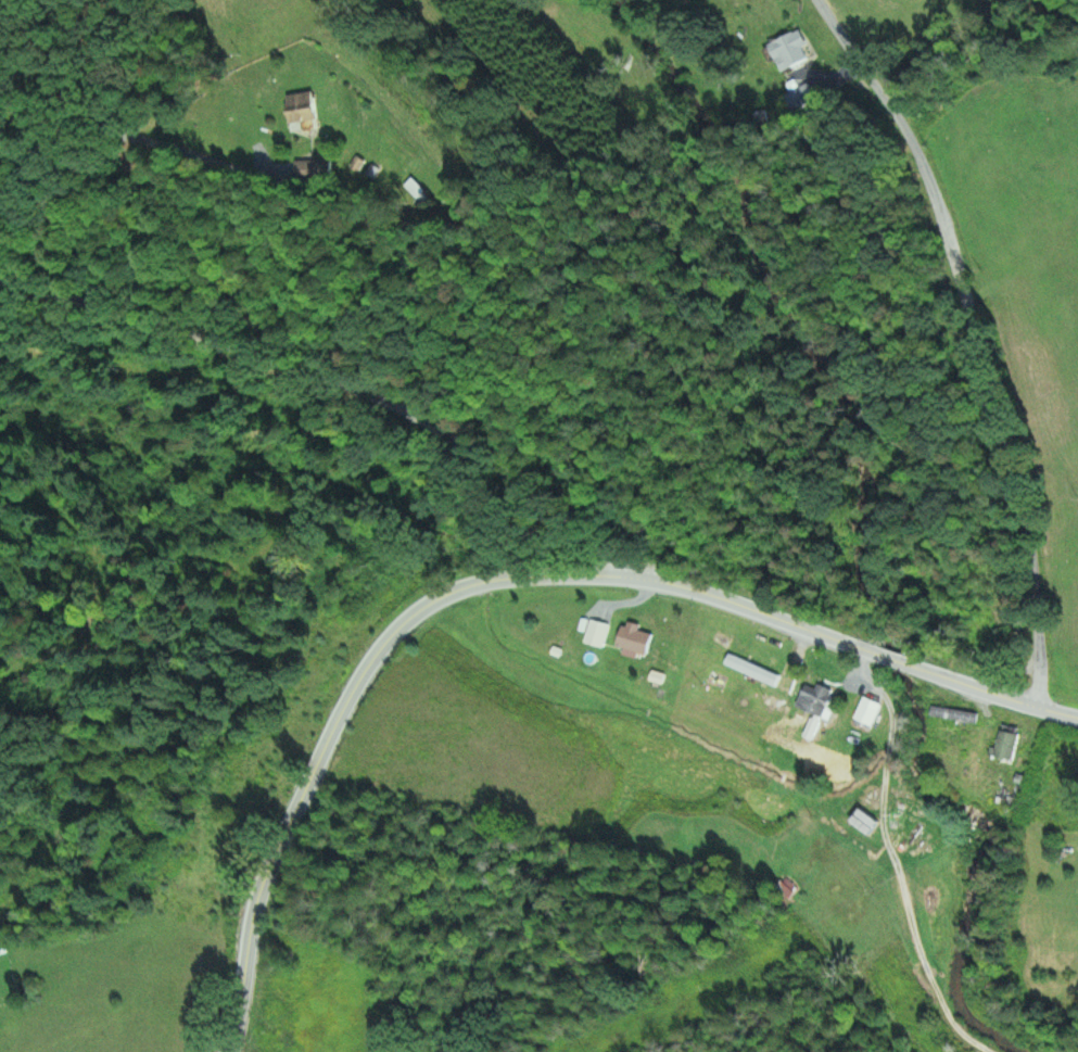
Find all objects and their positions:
building: (789, 51)
building: (300, 111)
road: (981, 338)
road: (344, 379)
road: (512, 580)
building: (596, 634)
building: (634, 639)
building: (814, 700)
building: (867, 712)
building: (1006, 744)
building: (863, 824)

